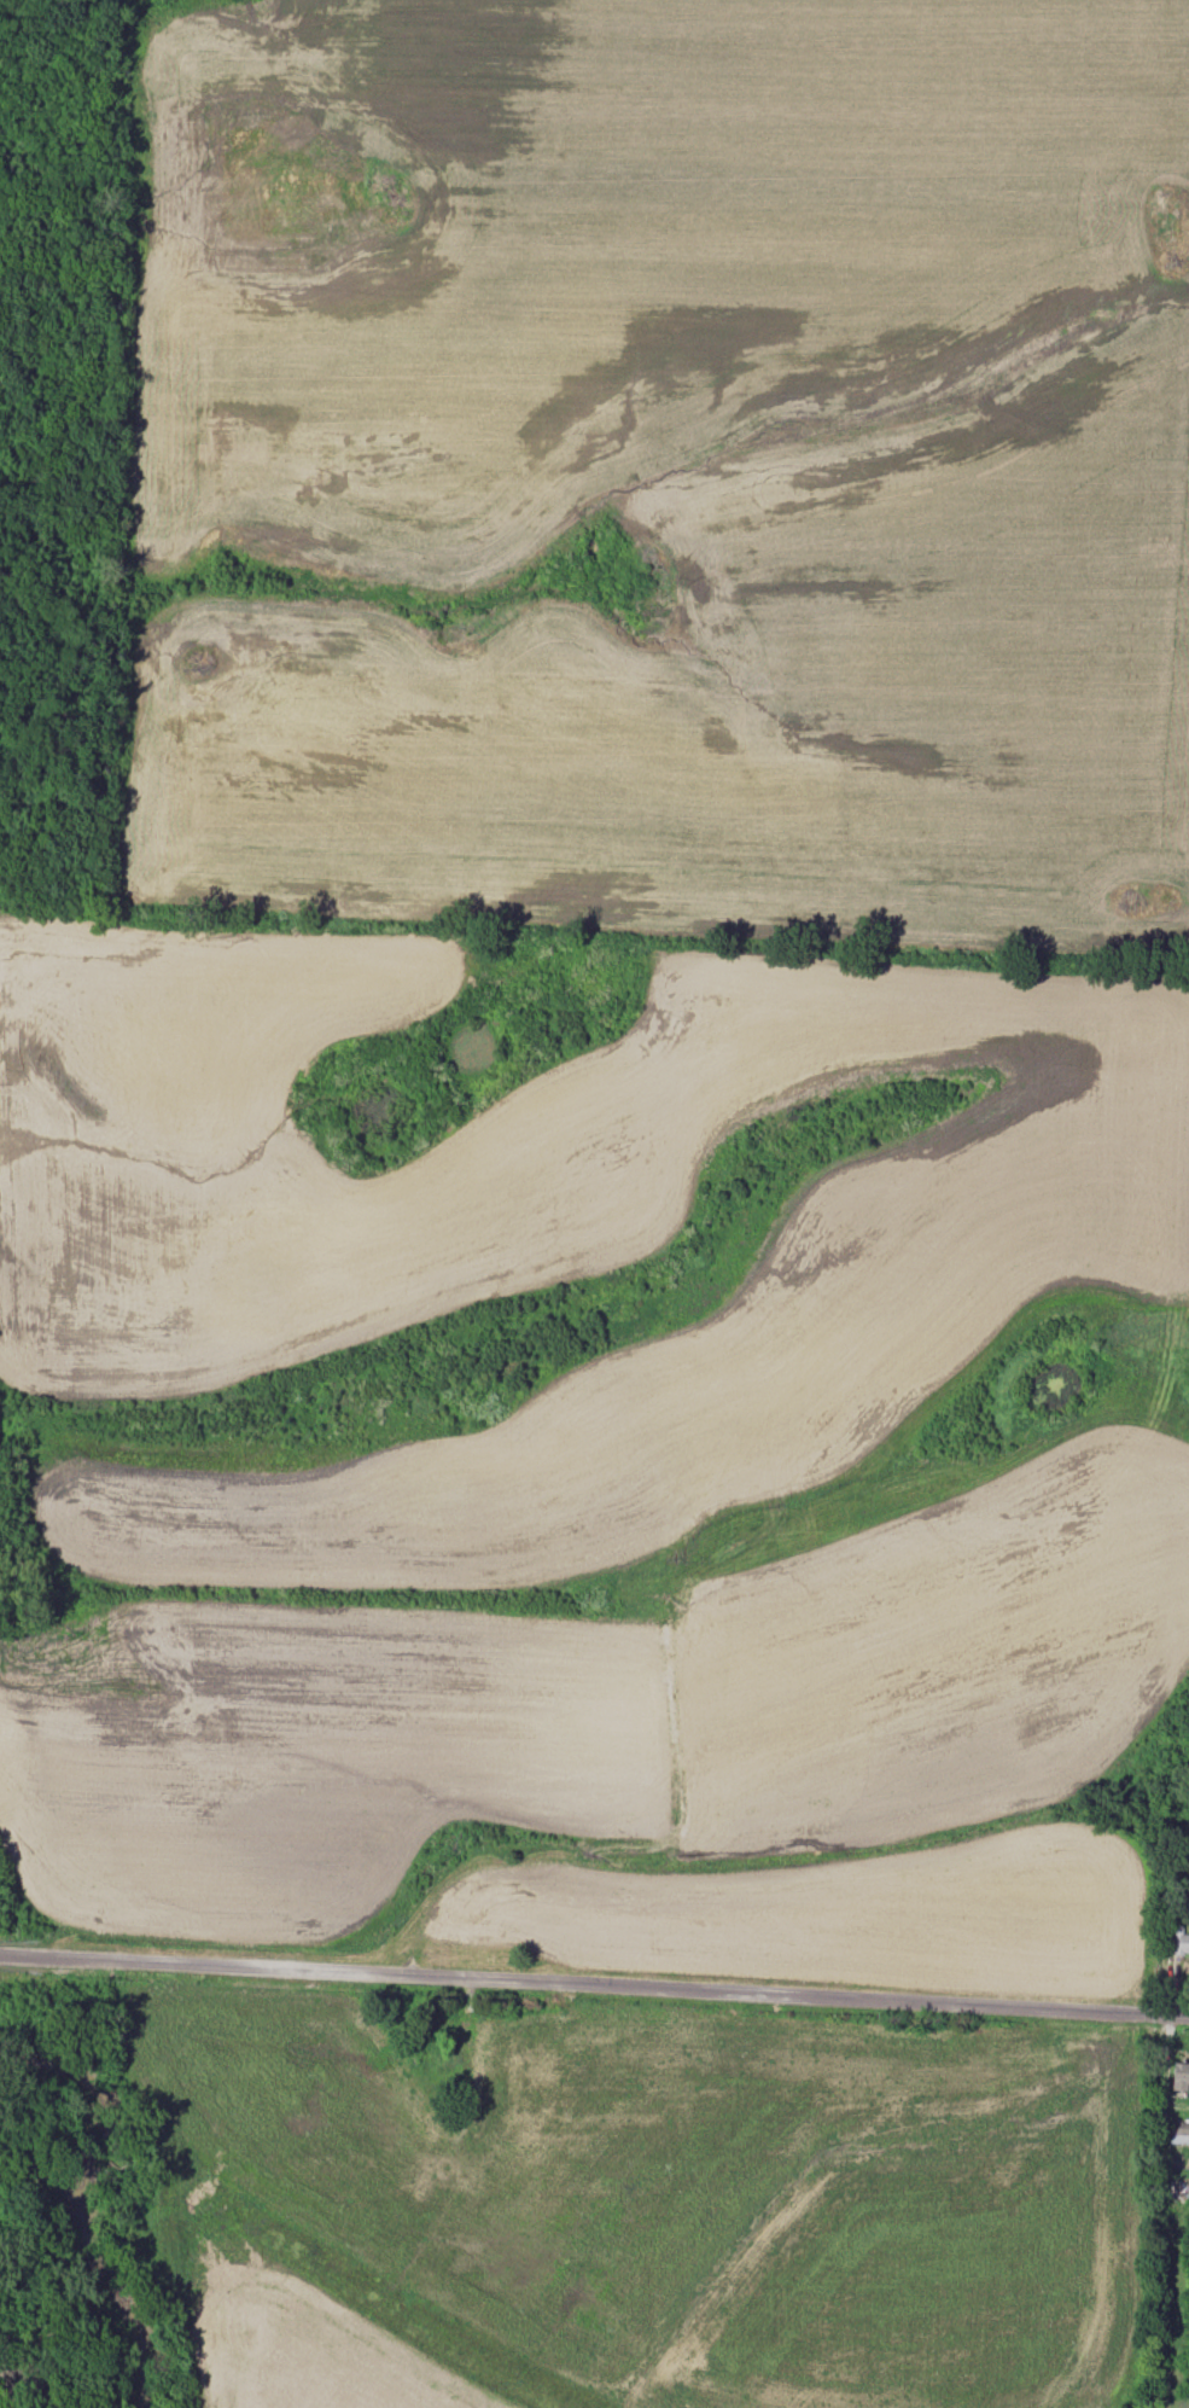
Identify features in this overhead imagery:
crop: (660, 460)
crop: (532, 1229)
crop: (648, 1750)
building: (1179, 1941)
road: (594, 1982)
building: (1181, 2076)
building: (1179, 2131)
crop: (636, 2199)

